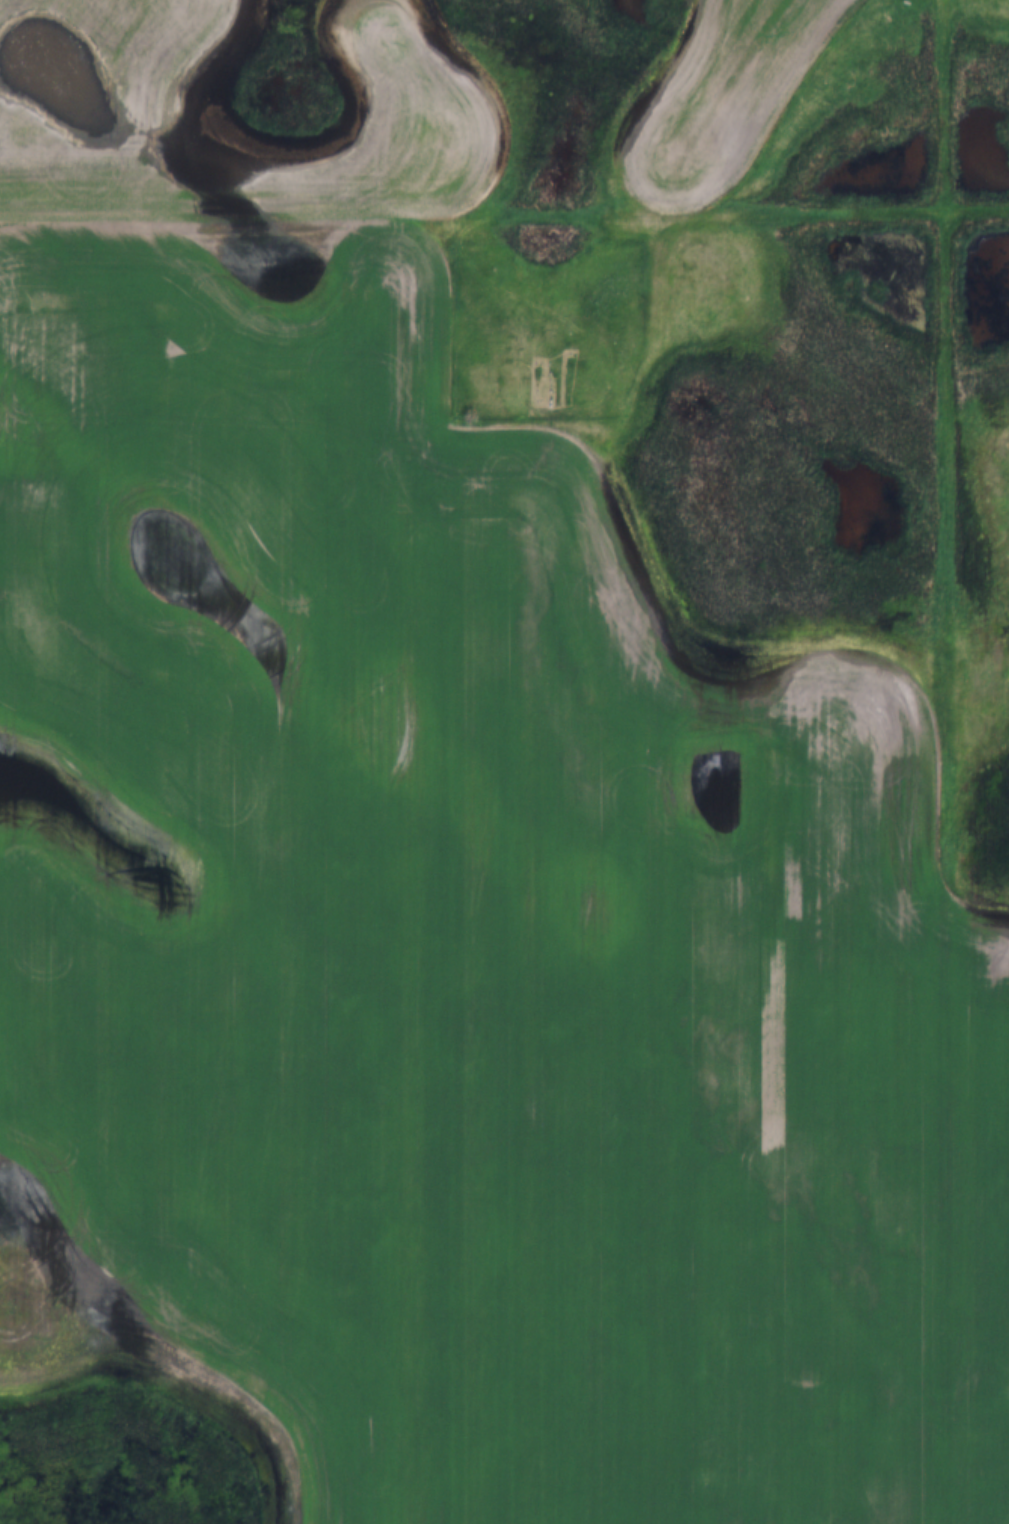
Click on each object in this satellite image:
road: (680, 219)
road: (947, 871)

